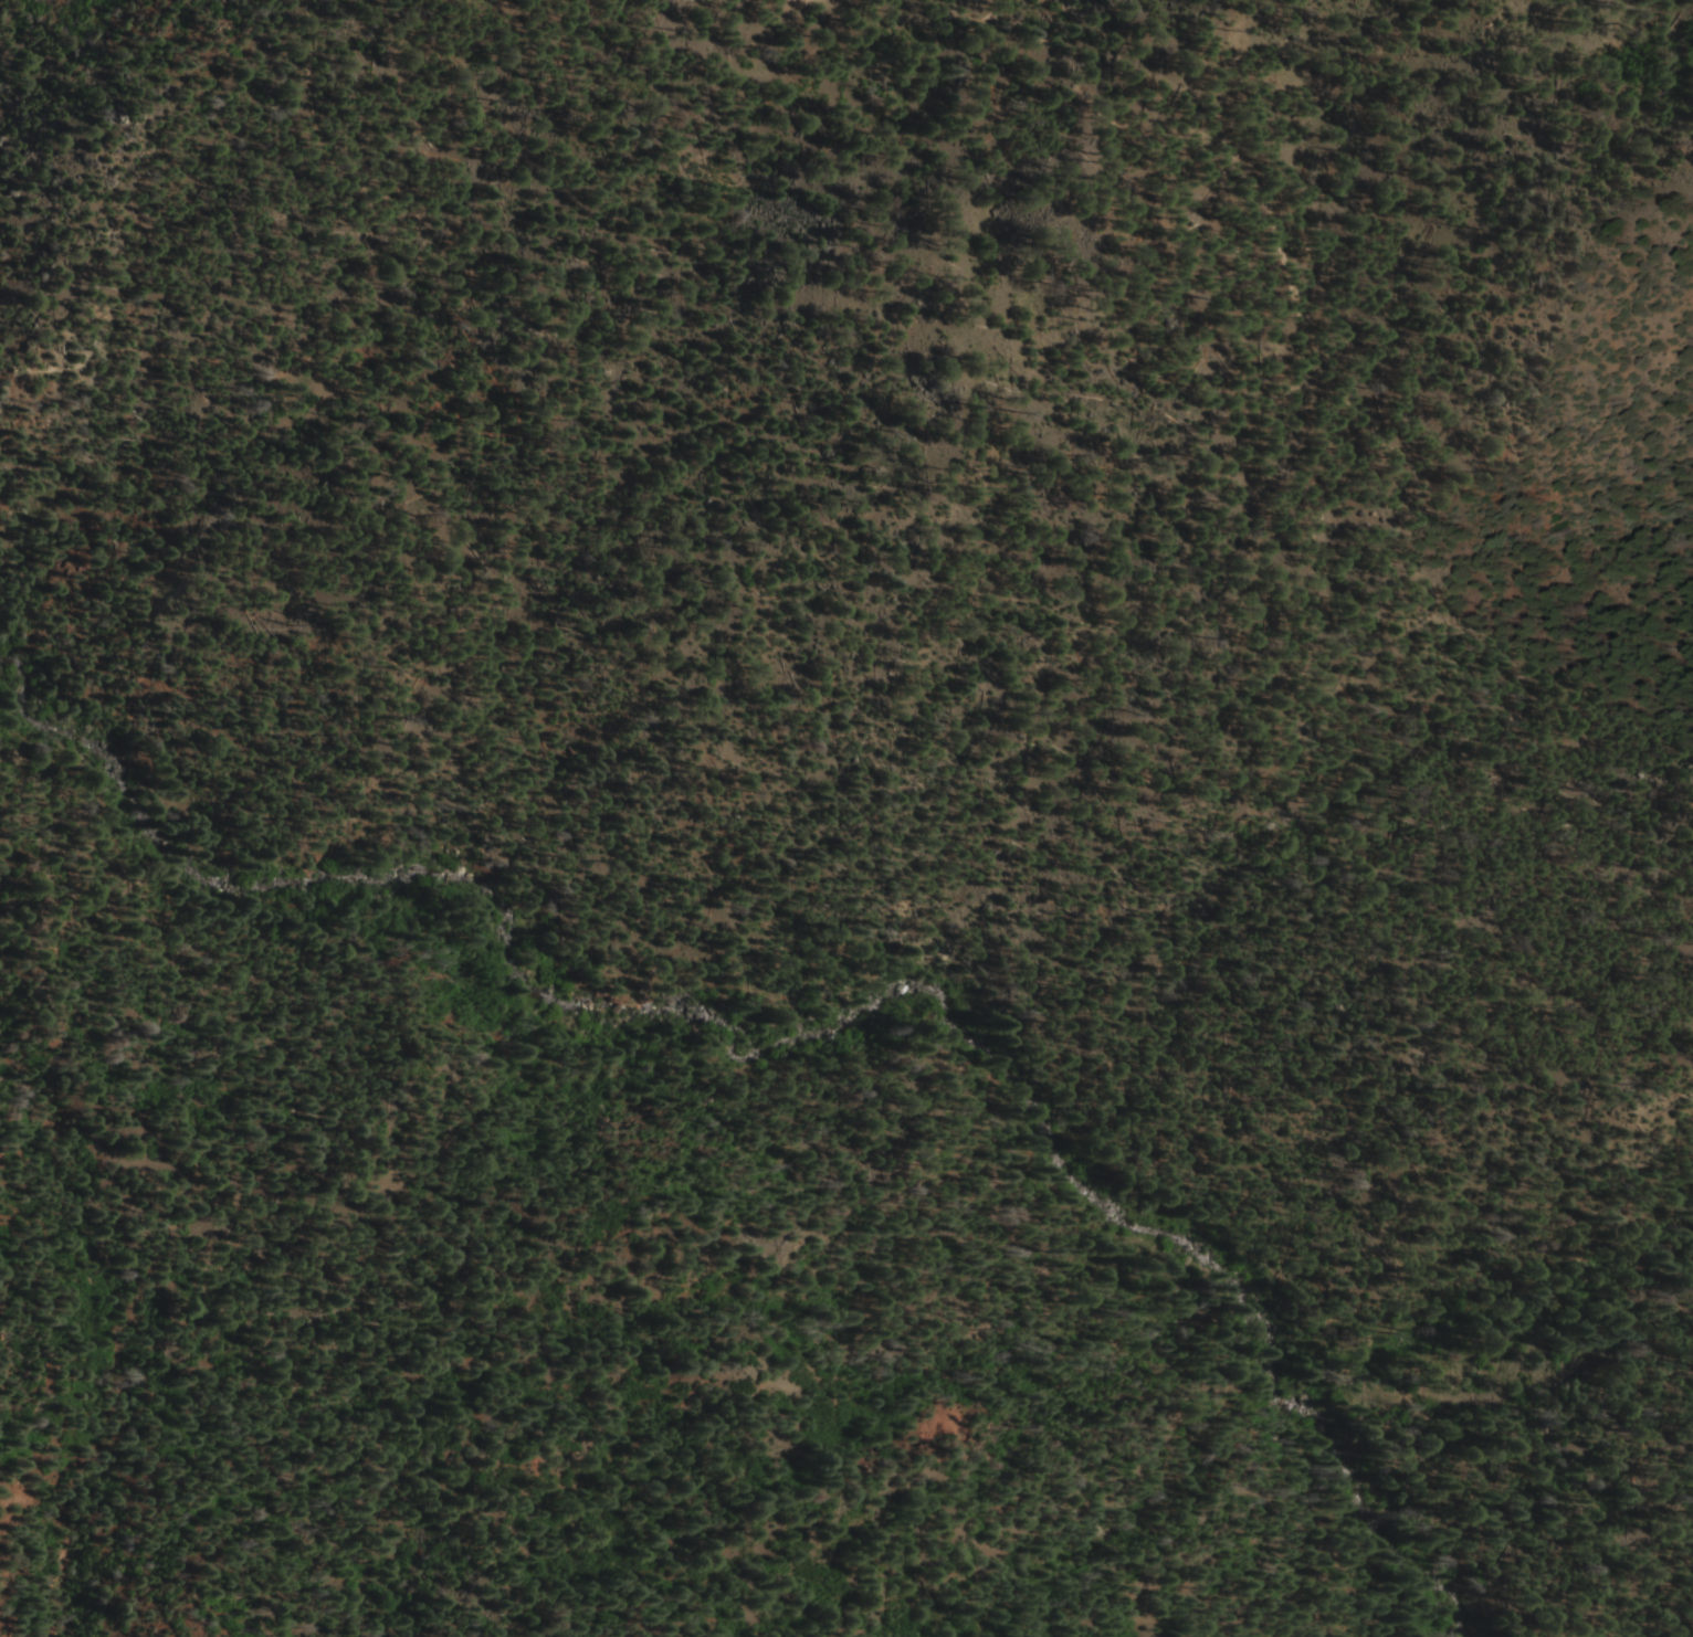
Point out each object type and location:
road: (1587, 144)
road: (1287, 288)
road: (545, 440)
road: (915, 983)

